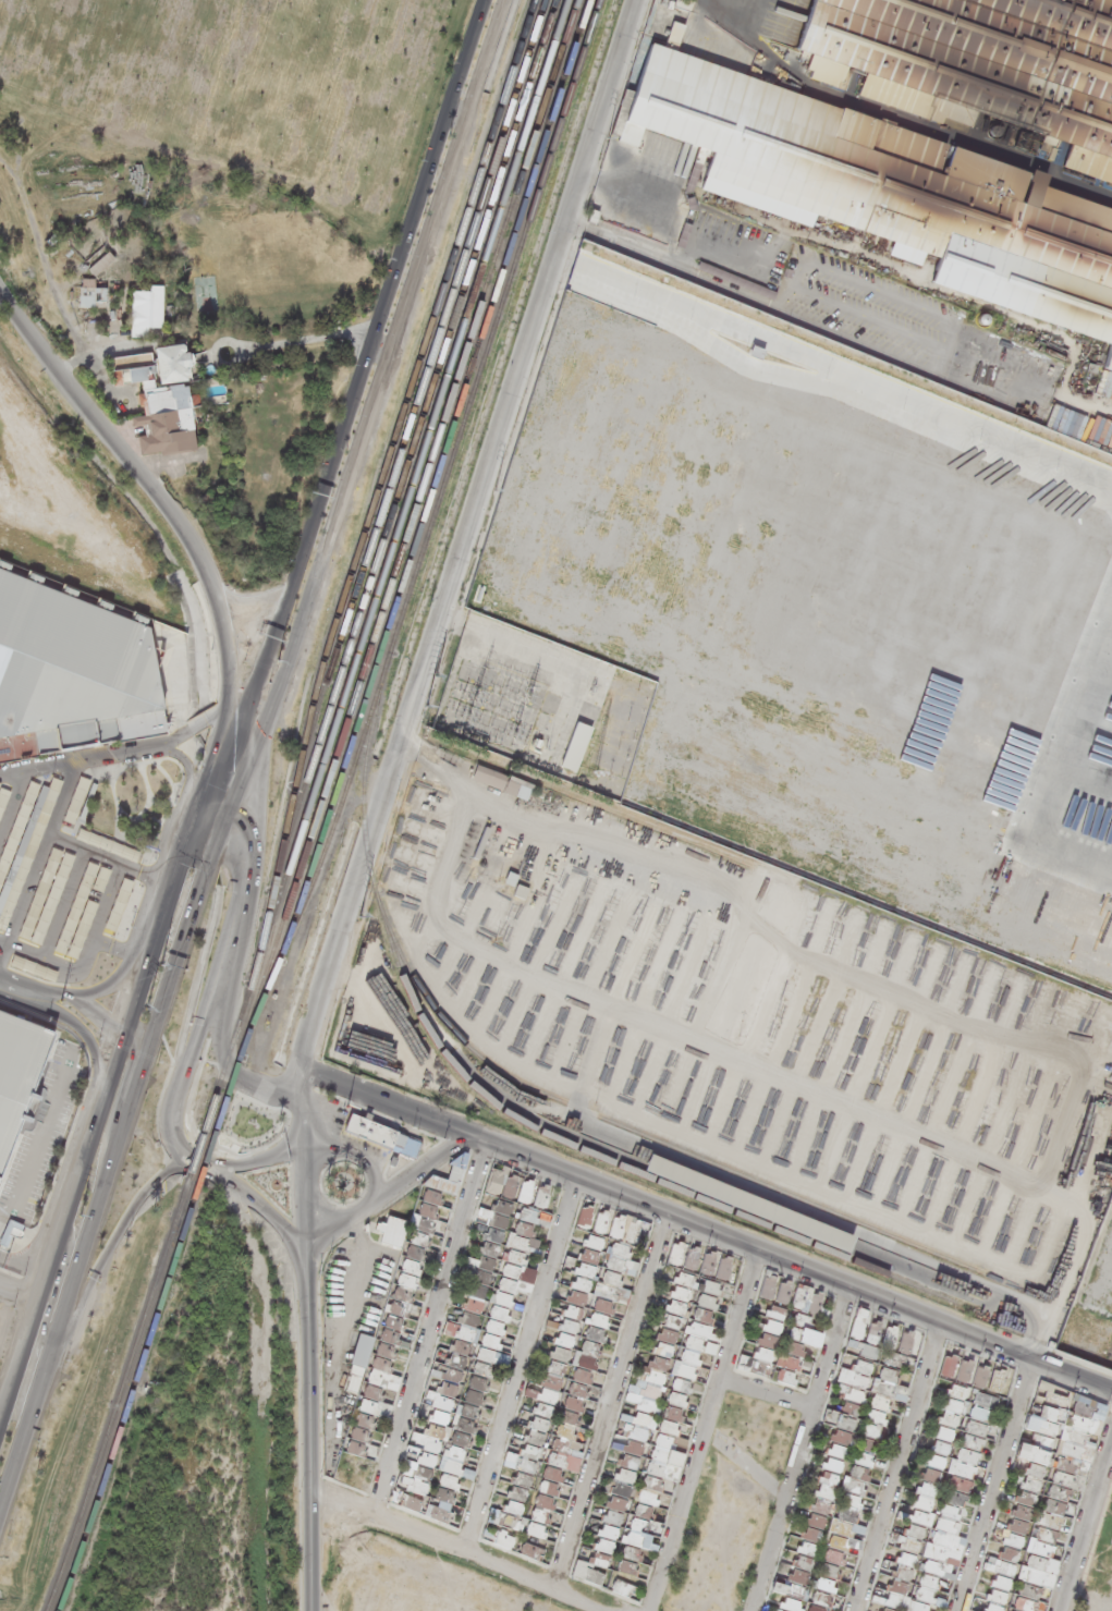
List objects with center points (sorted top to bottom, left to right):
railway: (437, 452)
railway: (383, 479)
railway: (438, 513)
railway: (406, 576)
road: (242, 698)
road: (248, 749)
road: (305, 1445)

